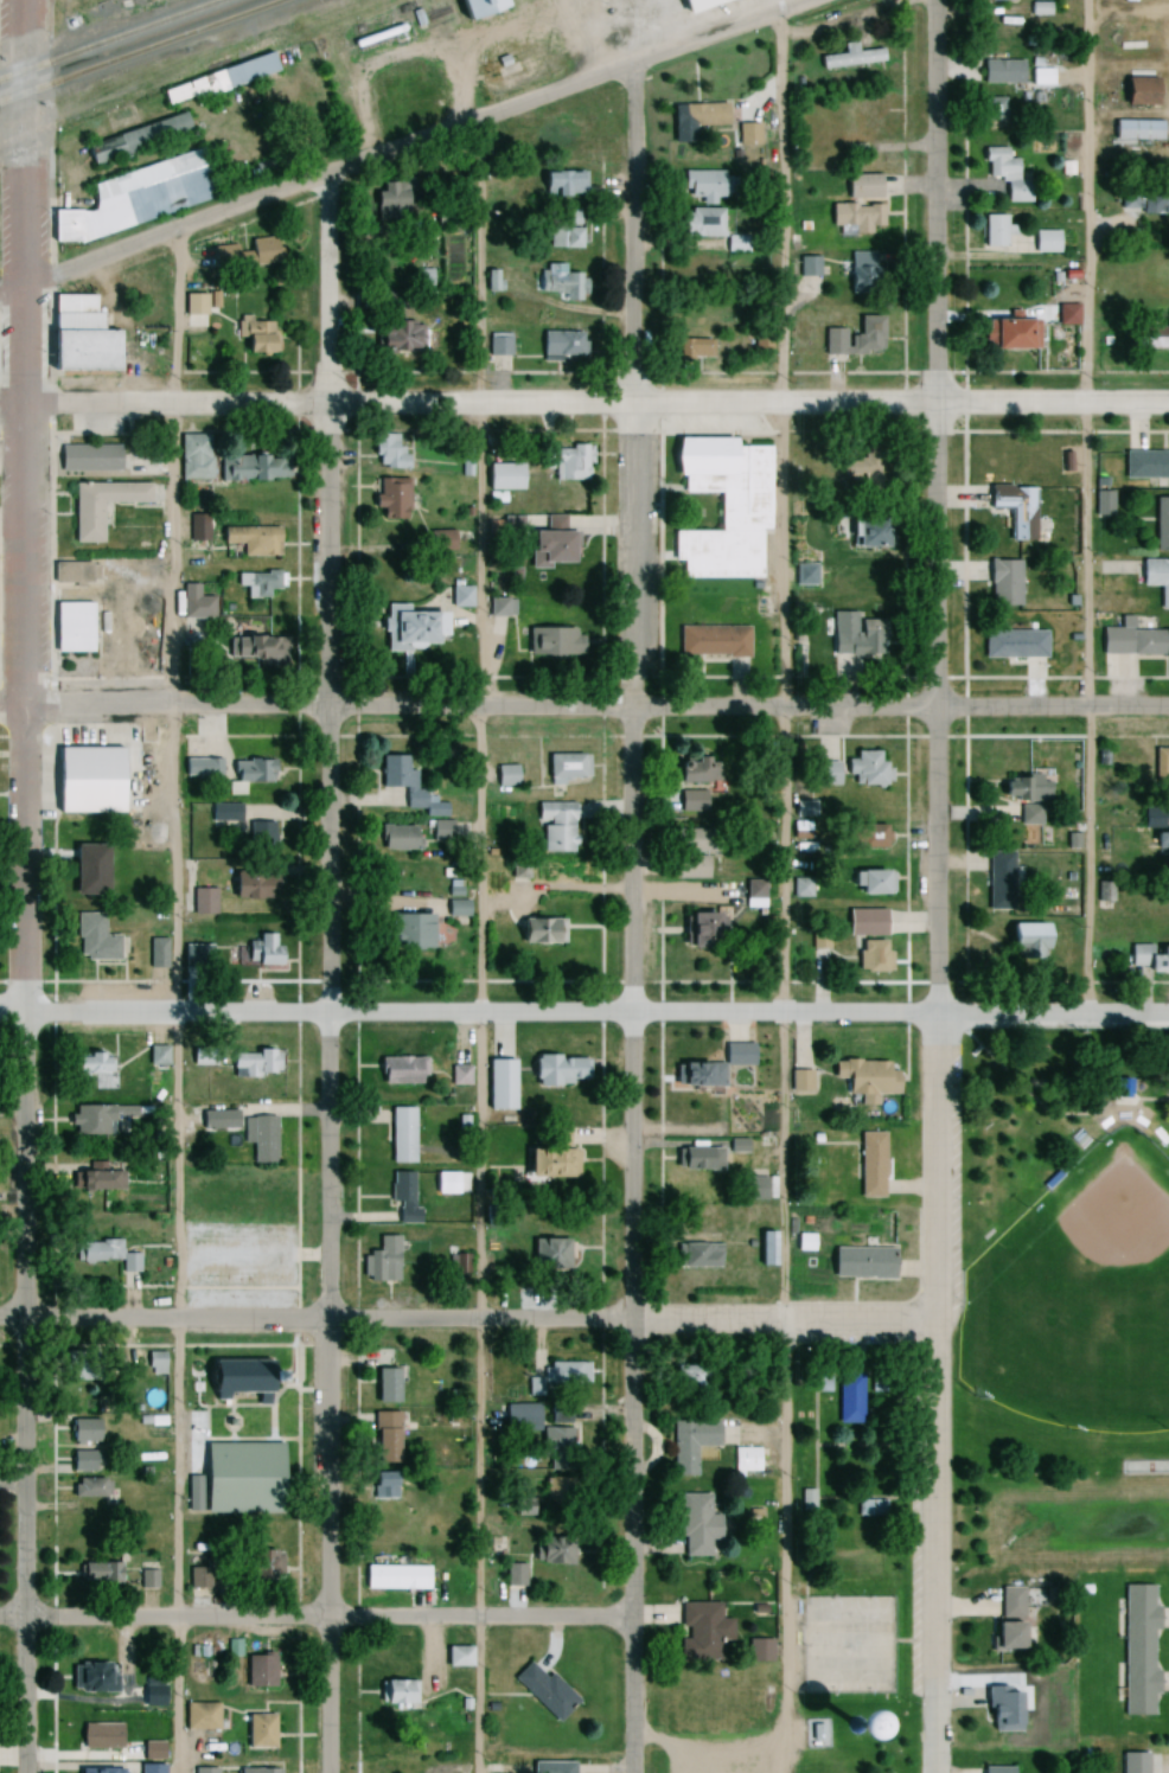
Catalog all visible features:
building: (999, 0)
road: (720, 31)
railway: (113, 40)
railway: (142, 51)
building: (849, 58)
building: (1001, 71)
railway: (202, 73)
building: (1039, 77)
building: (215, 79)
building: (1137, 90)
building: (701, 114)
building: (863, 114)
building: (1135, 130)
building: (749, 134)
building: (134, 140)
building: (1003, 174)
road: (315, 179)
building: (561, 183)
building: (701, 184)
building: (861, 186)
building: (134, 197)
building: (389, 199)
road: (933, 203)
building: (1149, 203)
building: (854, 218)
building: (702, 223)
building: (564, 231)
building: (991, 231)
building: (1036, 243)
building: (243, 255)
building: (862, 274)
building: (809, 275)
building: (560, 283)
building: (196, 305)
building: (1065, 314)
building: (74, 333)
building: (1007, 333)
building: (396, 335)
building: (1156, 335)
building: (255, 337)
building: (854, 338)
building: (558, 344)
building: (498, 347)
building: (695, 348)
road: (314, 403)
road: (899, 405)
building: (704, 449)
building: (389, 452)
building: (87, 457)
building: (569, 462)
building: (1145, 465)
building: (249, 466)
building: (852, 468)
building: (500, 478)
building: (389, 498)
building: (1101, 504)
building: (98, 506)
road: (1085, 507)
building: (1014, 508)
building: (1161, 524)
building: (863, 532)
building: (250, 540)
building: (545, 549)
building: (803, 575)
building: (1155, 578)
building: (256, 583)
building: (1002, 583)
building: (460, 597)
building: (193, 603)
building: (500, 607)
building: (74, 626)
building: (407, 628)
building: (855, 635)
building: (550, 641)
building: (1132, 641)
building: (1011, 644)
building: (715, 645)
building: (253, 648)
road: (314, 704)
road: (899, 704)
road: (939, 709)
building: (824, 764)
building: (1161, 764)
building: (200, 767)
building: (564, 767)
building: (686, 769)
building: (865, 769)
building: (250, 772)
building: (504, 775)
building: (88, 781)
building: (408, 786)
building: (1022, 795)
building: (691, 801)
building: (804, 808)
building: (224, 812)
building: (1150, 819)
building: (554, 827)
building: (865, 836)
building: (396, 838)
building: (1164, 843)
building: (683, 866)
building: (84, 868)
building: (998, 881)
building: (865, 882)
building: (248, 884)
road: (23, 885)
road: (780, 892)
building: (202, 902)
building: (455, 908)
road: (630, 917)
building: (863, 922)
building: (695, 929)
building: (411, 932)
building: (538, 932)
building: (91, 937)
building: (1023, 941)
road: (477, 946)
building: (261, 952)
building: (156, 953)
building: (870, 955)
building: (1149, 959)
building: (190, 961)
road: (326, 973)
road: (173, 1001)
road: (899, 1012)
road: (314, 1013)
building: (199, 1056)
building: (84, 1064)
building: (251, 1064)
building: (710, 1068)
building: (398, 1071)
building: (556, 1071)
building: (459, 1076)
building: (863, 1077)
building: (798, 1081)
building: (503, 1083)
building: (216, 1120)
building: (91, 1121)
building: (403, 1133)
building: (257, 1138)
building: (696, 1160)
building: (545, 1164)
building: (869, 1166)
building: (91, 1180)
building: (750, 1190)
building: (402, 1198)
building: (96, 1252)
building: (549, 1255)
building: (695, 1255)
building: (382, 1261)
building: (128, 1263)
building: (858, 1263)
building: (459, 1265)
park: (1078, 1297)
road: (781, 1320)
road: (315, 1323)
building: (567, 1377)
building: (688, 1377)
building: (237, 1380)
building: (383, 1387)
road: (933, 1393)
building: (851, 1397)
building: (558, 1414)
building: (522, 1419)
building: (83, 1432)
building: (383, 1439)
building: (689, 1444)
building: (558, 1448)
building: (747, 1458)
building: (82, 1461)
building: (236, 1478)
building: (382, 1486)
building: (88, 1489)
building: (555, 1493)
building: (805, 1500)
building: (869, 1509)
building: (696, 1525)
building: (550, 1551)
building: (97, 1574)
building: (397, 1575)
building: (513, 1575)
building: (198, 1579)
building: (148, 1580)
building: (1009, 1601)
road: (314, 1618)
building: (697, 1632)
building: (1002, 1637)
building: (1137, 1651)
building: (455, 1657)
building: (262, 1670)
building: (91, 1678)
building: (543, 1692)
building: (395, 1694)
building: (152, 1697)
building: (1002, 1709)
building: (203, 1714)
building: (257, 1733)
water tower: (854, 1733)
building: (97, 1737)
building: (1132, 1764)
building: (551, 1768)
building: (97, 1769)
building: (149, 1769)
building: (203, 1771)
building: (996, 1771)
building: (256, 1772)

